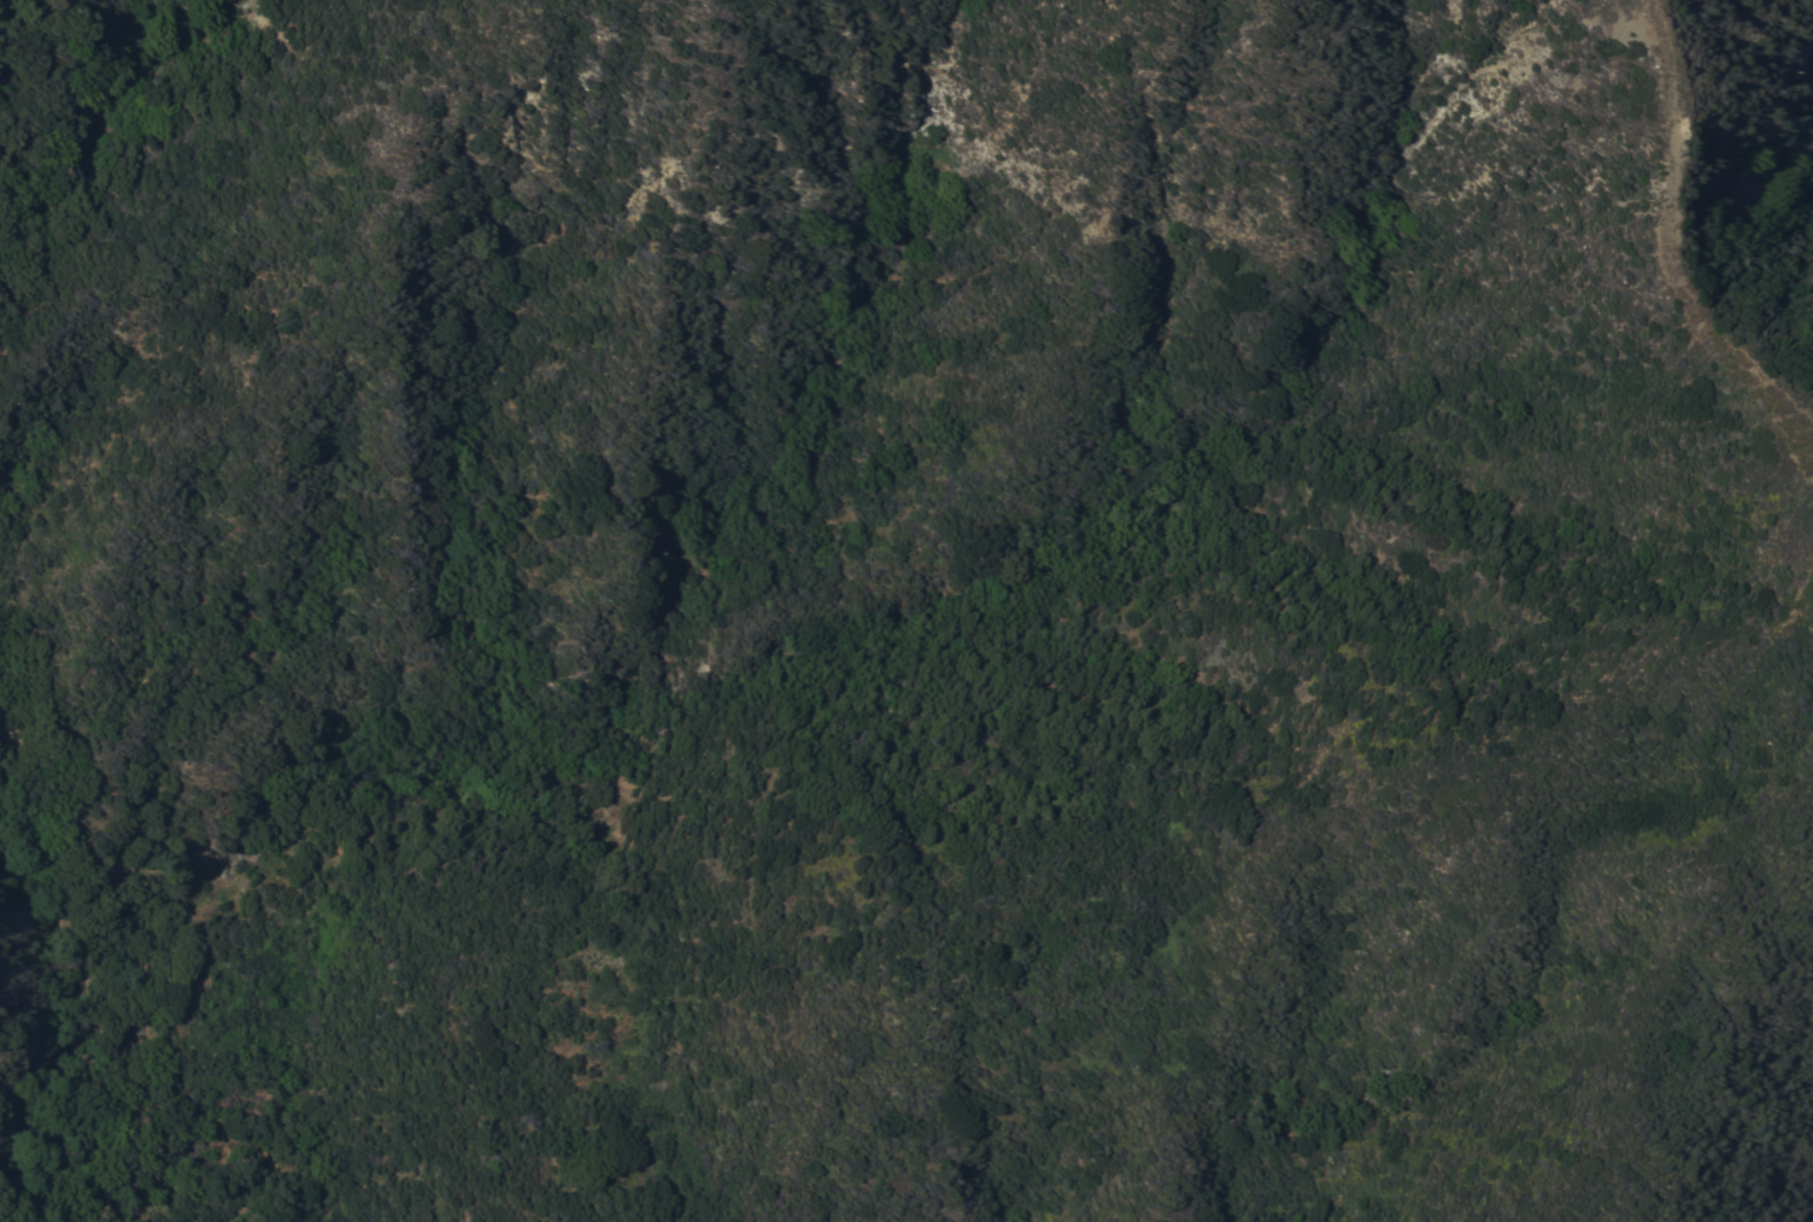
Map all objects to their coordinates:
road: (1668, 290)

